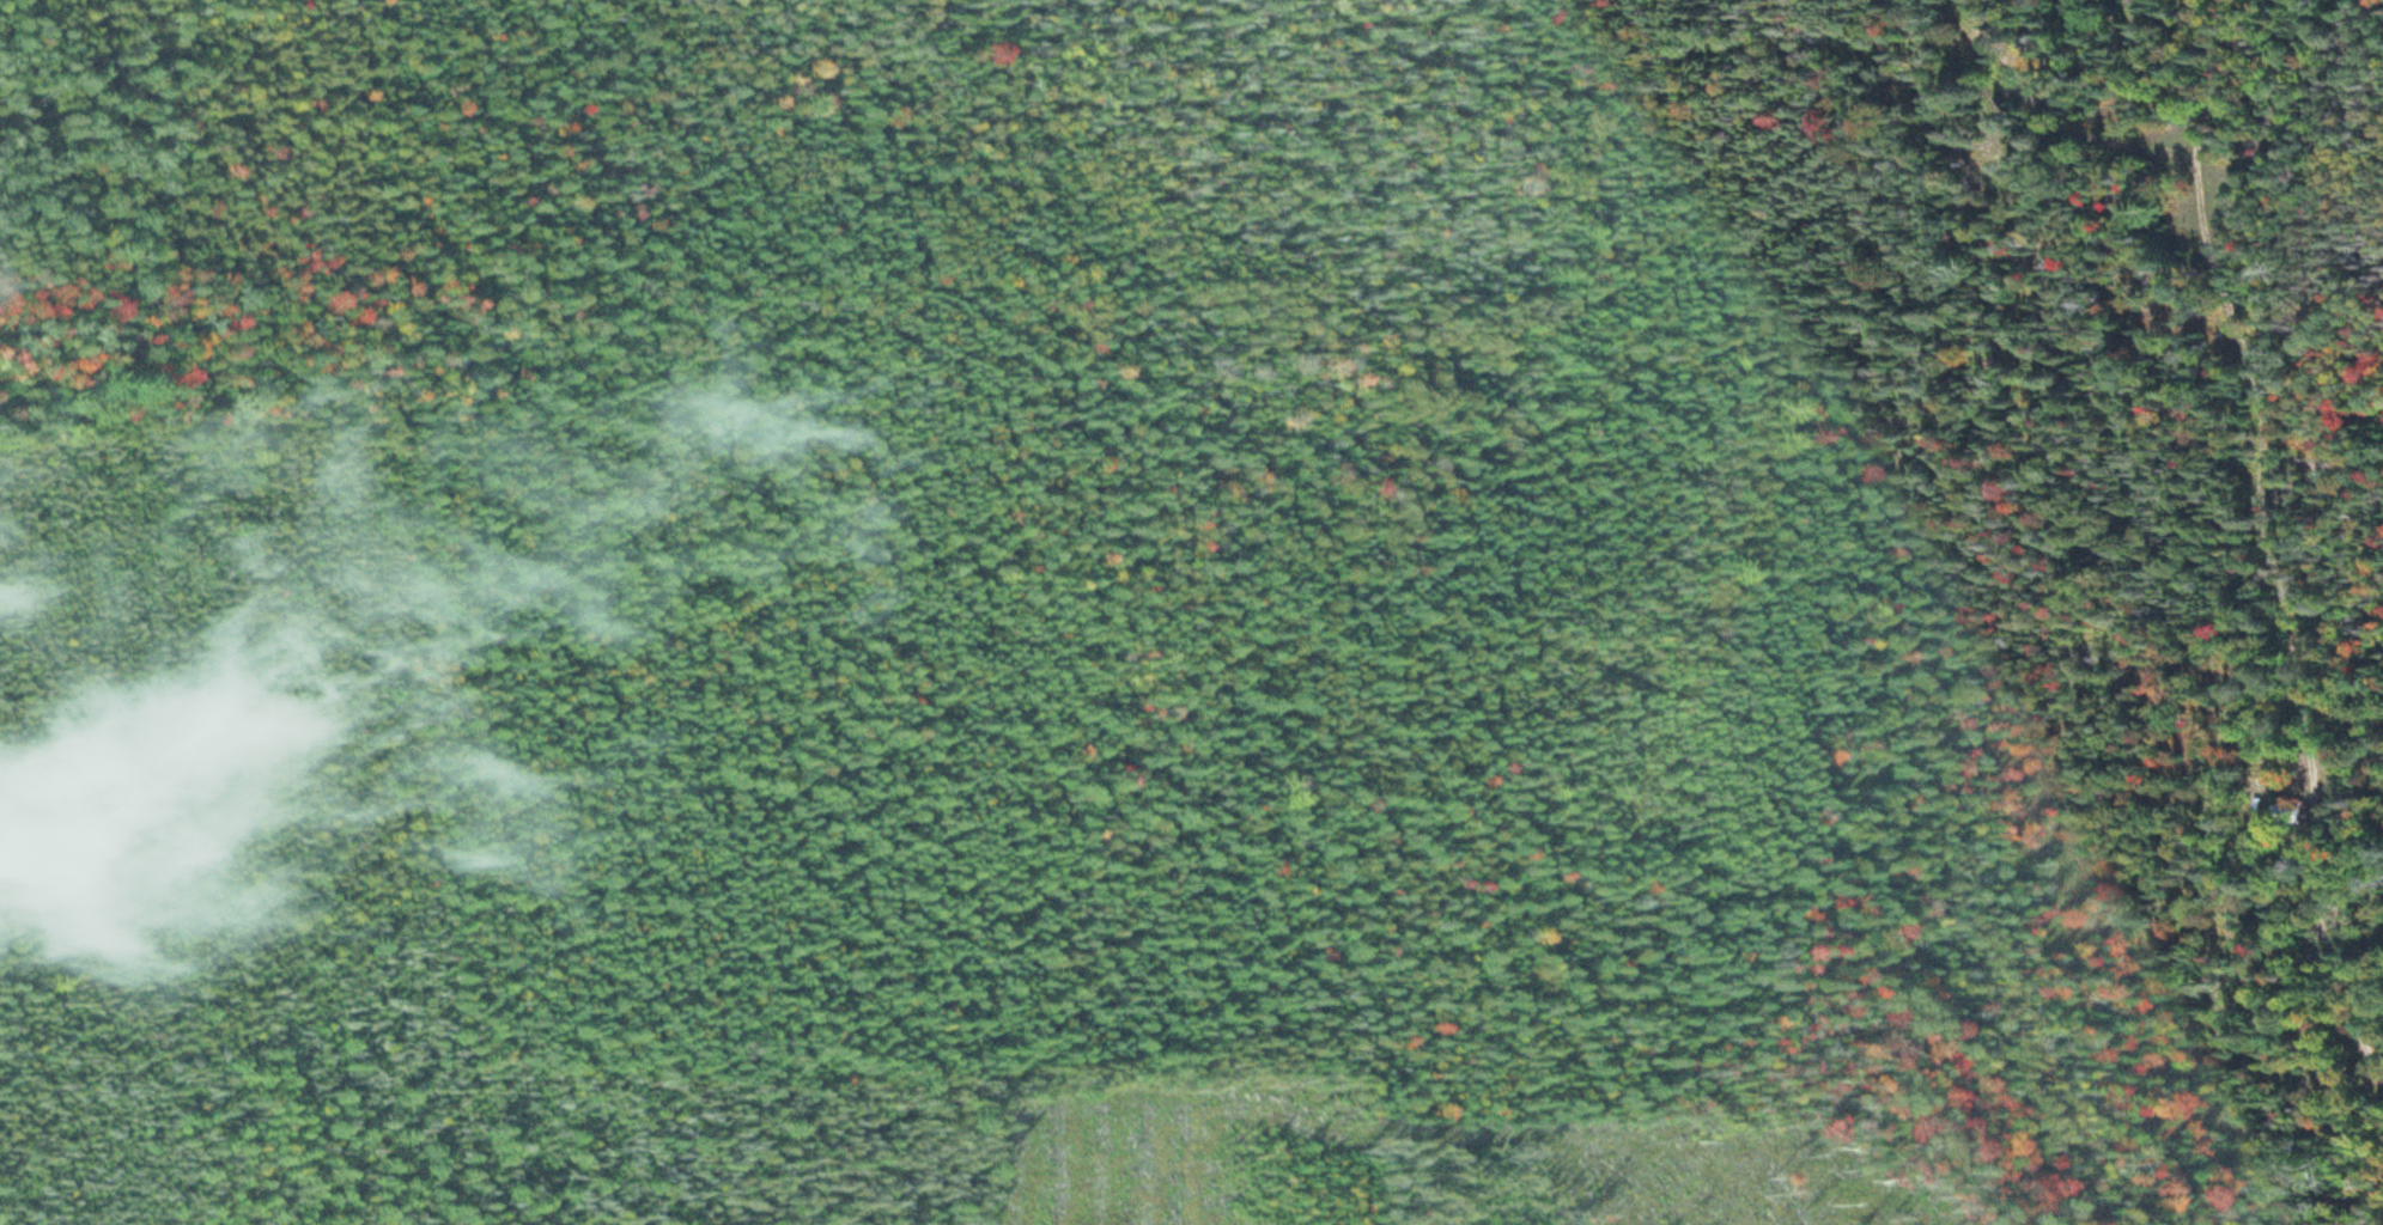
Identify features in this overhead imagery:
road: (2293, 524)
building: (2292, 812)

